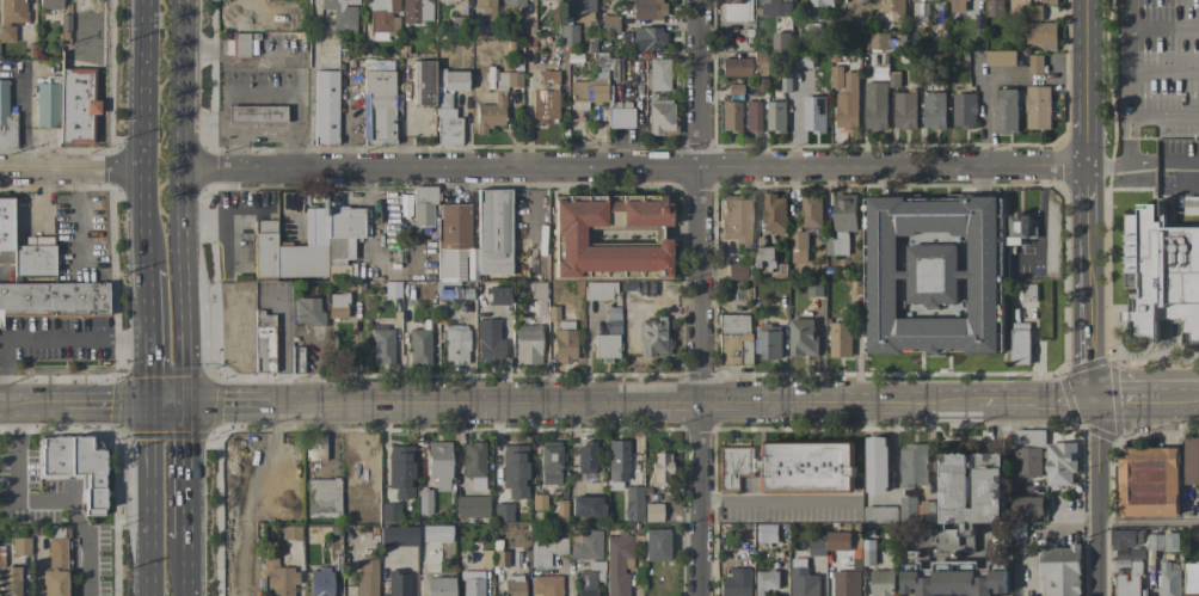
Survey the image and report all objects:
building: (445, 0)
building: (1049, 1)
building: (512, 2)
building: (820, 2)
building: (50, 4)
building: (957, 5)
building: (776, 7)
building: (890, 7)
building: (485, 8)
building: (579, 8)
building: (646, 8)
building: (920, 8)
building: (995, 8)
building: (734, 10)
building: (414, 11)
building: (1034, 12)
road: (1127, 14)
building: (338, 16)
building: (11, 18)
building: (381, 19)
building: (609, 24)
building: (451, 25)
building: (63, 26)
building: (478, 26)
road: (1163, 27)
building: (567, 35)
building: (1040, 35)
building: (646, 38)
building: (781, 41)
building: (881, 41)
building: (1000, 57)
building: (803, 60)
building: (760, 63)
building: (1035, 64)
building: (733, 67)
building: (614, 68)
road: (1129, 72)
road: (1163, 72)
building: (656, 74)
building: (836, 76)
building: (449, 79)
building: (508, 79)
building: (893, 79)
building: (422, 82)
building: (762, 85)
building: (785, 85)
building: (588, 86)
building: (733, 88)
building: (543, 98)
building: (847, 103)
building: (67, 104)
building: (875, 105)
building: (1037, 106)
building: (325, 107)
building: (376, 107)
building: (905, 110)
building: (934, 110)
building: (964, 110)
building: (1006, 110)
building: (490, 111)
building: (253, 113)
building: (616, 113)
building: (813, 113)
building: (728, 116)
building: (751, 116)
building: (775, 116)
building: (658, 117)
building: (6, 119)
building: (445, 121)
road: (1129, 127)
road: (142, 135)
road: (634, 166)
road: (70, 168)
road: (184, 201)
building: (405, 205)
building: (423, 205)
building: (1192, 205)
building: (811, 211)
building: (774, 213)
building: (733, 219)
building: (842, 223)
road: (1041, 223)
building: (1020, 228)
building: (492, 232)
building: (564, 233)
building: (451, 241)
building: (307, 242)
building: (798, 245)
building: (24, 246)
building: (762, 257)
building: (471, 264)
building: (736, 271)
building: (931, 274)
building: (1161, 276)
building: (814, 288)
building: (391, 289)
building: (535, 290)
building: (597, 290)
building: (1029, 293)
building: (496, 295)
road: (697, 297)
road: (1087, 297)
building: (54, 299)
building: (337, 306)
building: (307, 312)
building: (551, 313)
road: (148, 336)
building: (652, 337)
building: (803, 337)
road: (43, 339)
building: (731, 339)
building: (841, 339)
building: (488, 340)
building: (262, 342)
building: (562, 342)
building: (1020, 343)
building: (380, 344)
building: (418, 344)
building: (454, 344)
building: (525, 344)
building: (769, 344)
building: (604, 346)
road: (281, 354)
building: (295, 360)
railway: (687, 383)
railway: (87, 389)
railway: (687, 393)
railway: (87, 399)
road: (1178, 399)
road: (1035, 400)
traffic signals: (1092, 400)
road: (1124, 400)
road: (622, 401)
road: (109, 403)
traffic signals: (153, 403)
road: (173, 403)
traffic signals: (193, 403)
road: (229, 403)
road: (7, 404)
road: (41, 404)
building: (313, 447)
building: (1028, 451)
building: (584, 456)
building: (1192, 459)
building: (616, 460)
building: (548, 462)
building: (1059, 462)
building: (437, 463)
building: (473, 463)
building: (875, 463)
building: (789, 465)
building: (914, 465)
building: (74, 467)
building: (399, 469)
building: (514, 469)
building: (658, 469)
road: (192, 471)
building: (1148, 480)
building: (322, 498)
building: (965, 498)
road: (152, 499)
road: (777, 499)
road: (43, 500)
building: (423, 502)
building: (537, 502)
building: (632, 503)
building: (584, 505)
building: (1027, 505)
building: (471, 506)
building: (909, 509)
building: (927, 510)
building: (388, 512)
building: (502, 512)
building: (559, 512)
building: (651, 512)
building: (880, 514)
road: (1148, 521)
building: (289, 533)
building: (765, 533)
building: (431, 534)
building: (394, 535)
building: (1124, 537)
building: (842, 540)
building: (1155, 541)
building: (1172, 541)
building: (653, 543)
building: (584, 545)
building: (20, 546)
building: (816, 546)
building: (545, 551)
building: (868, 552)
building: (1137, 552)
building: (485, 558)
building: (499, 559)
building: (616, 564)
building: (55, 565)
road: (191, 567)
building: (1059, 570)
building: (277, 577)
building: (365, 577)
building: (952, 577)
building: (589, 578)
building: (803, 579)
building: (1168, 579)
building: (1191, 579)
building: (10, 580)
building: (763, 580)
building: (1129, 580)
building: (318, 582)
building: (733, 582)
building: (395, 583)
building: (471, 583)
building: (846, 583)
building: (881, 583)
building: (437, 585)
building: (545, 585)
building: (511, 586)

